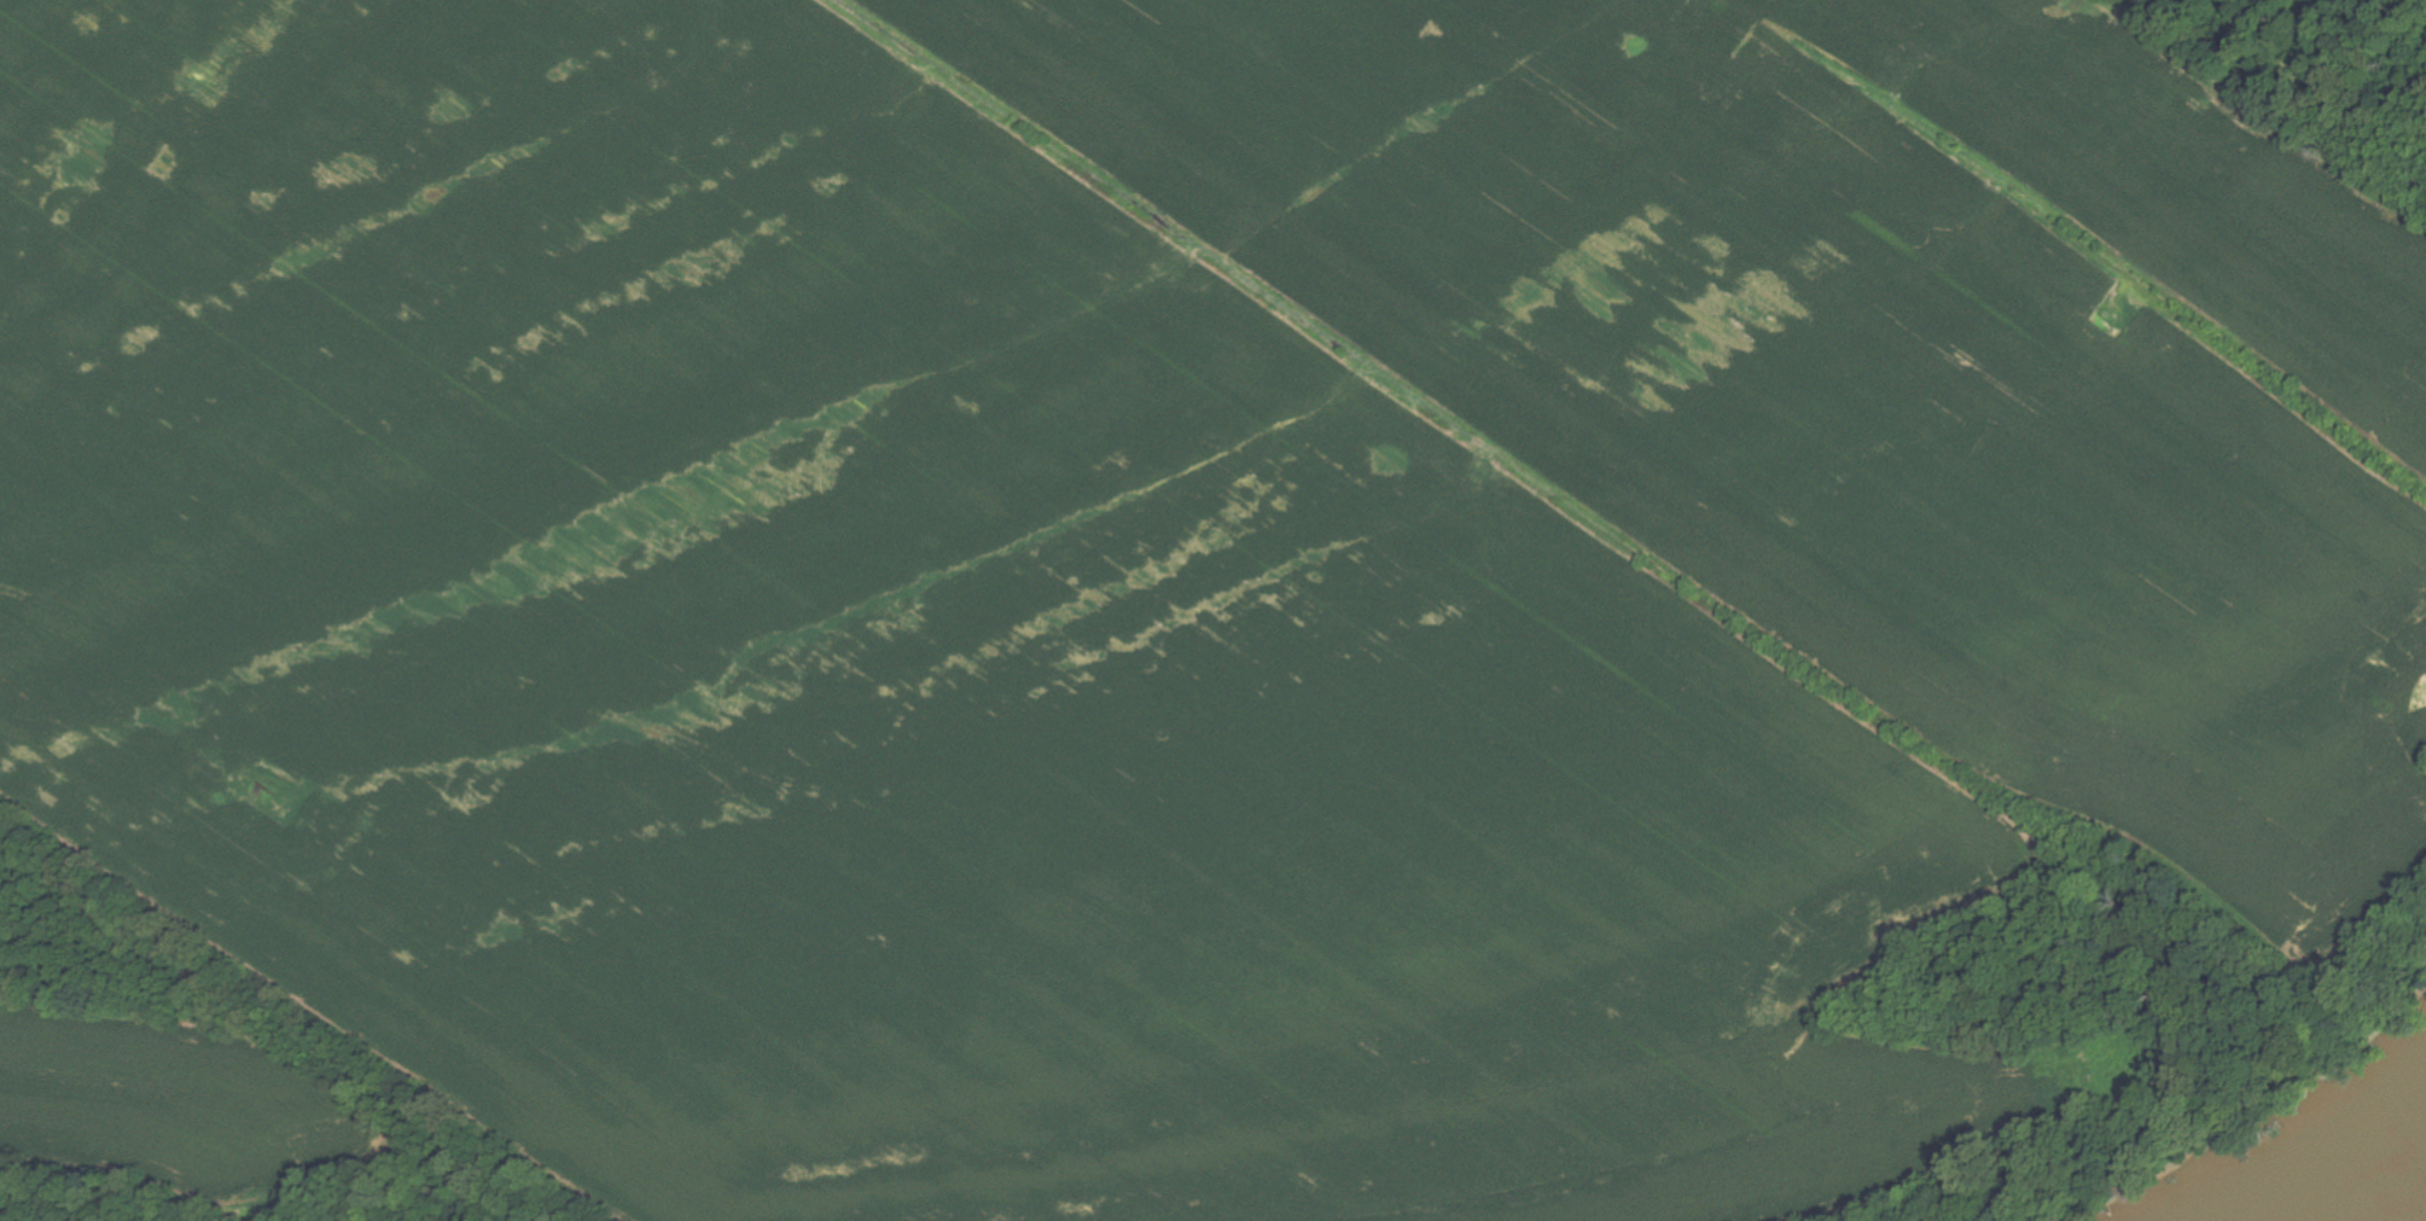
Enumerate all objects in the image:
river: (2381, 1192)

